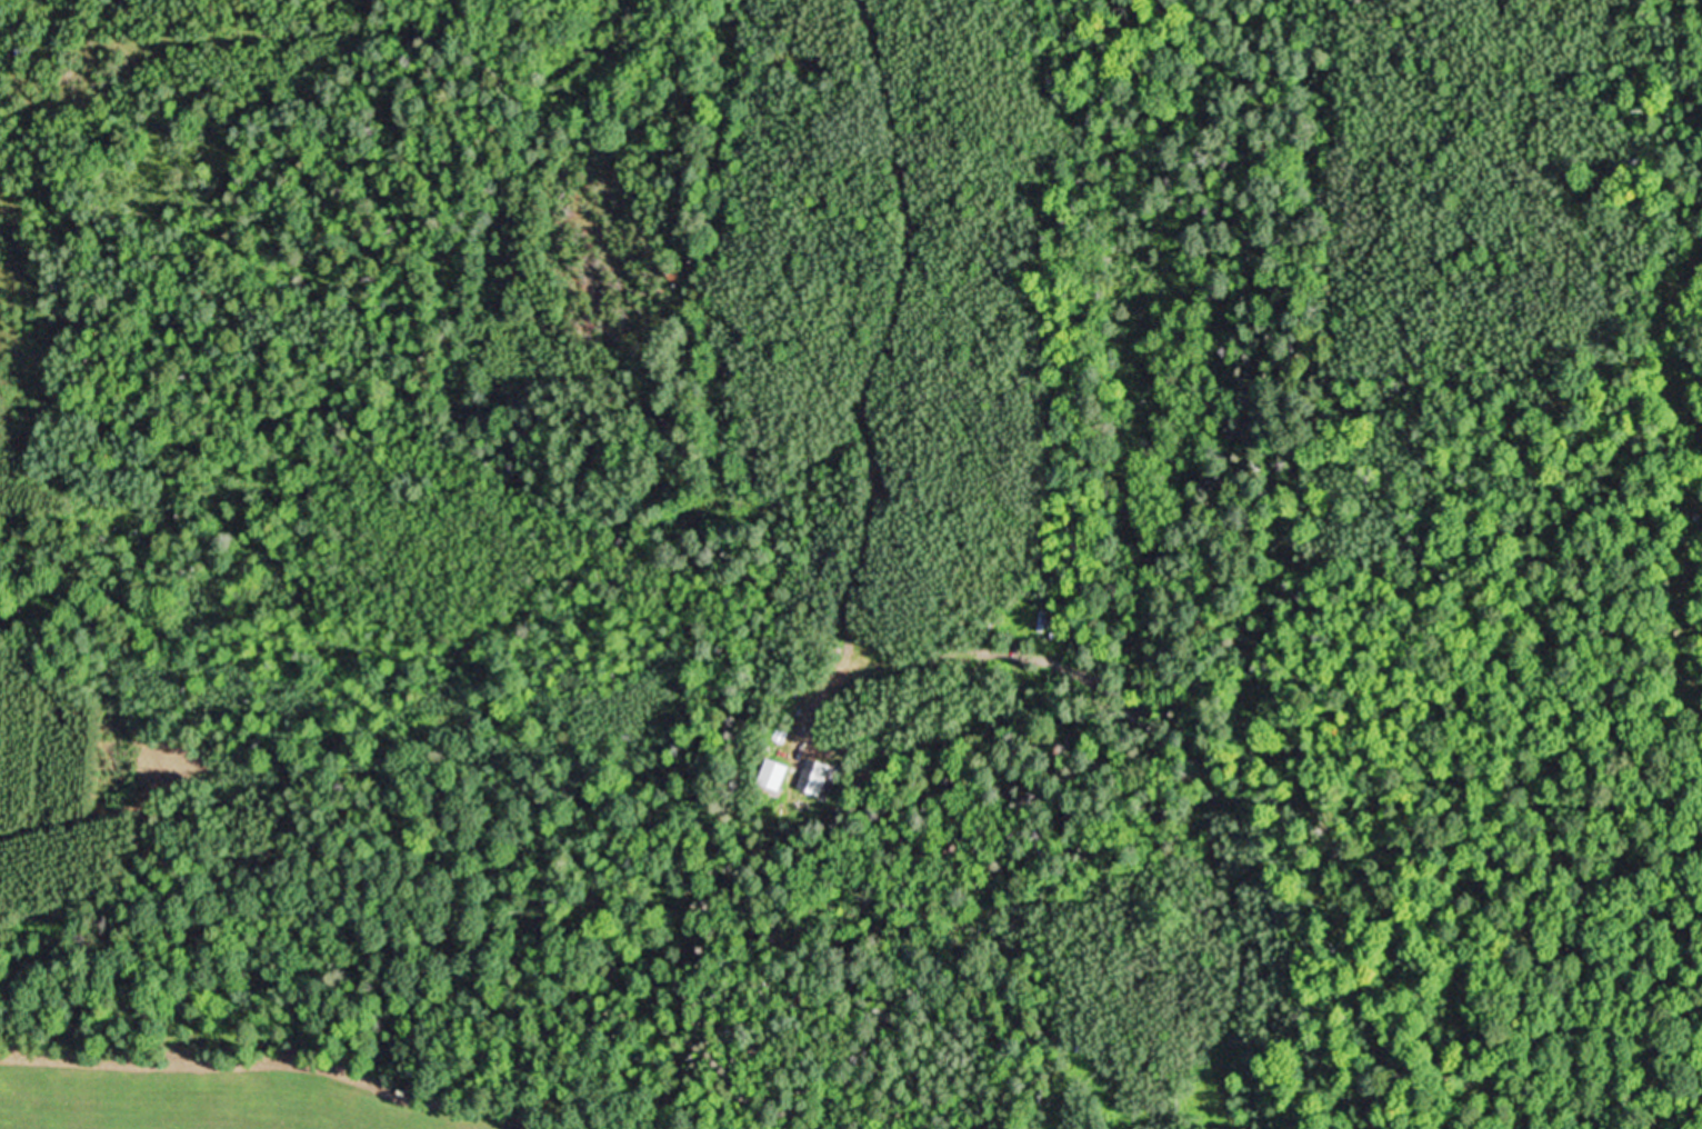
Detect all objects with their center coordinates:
road: (888, 328)
building: (778, 772)

